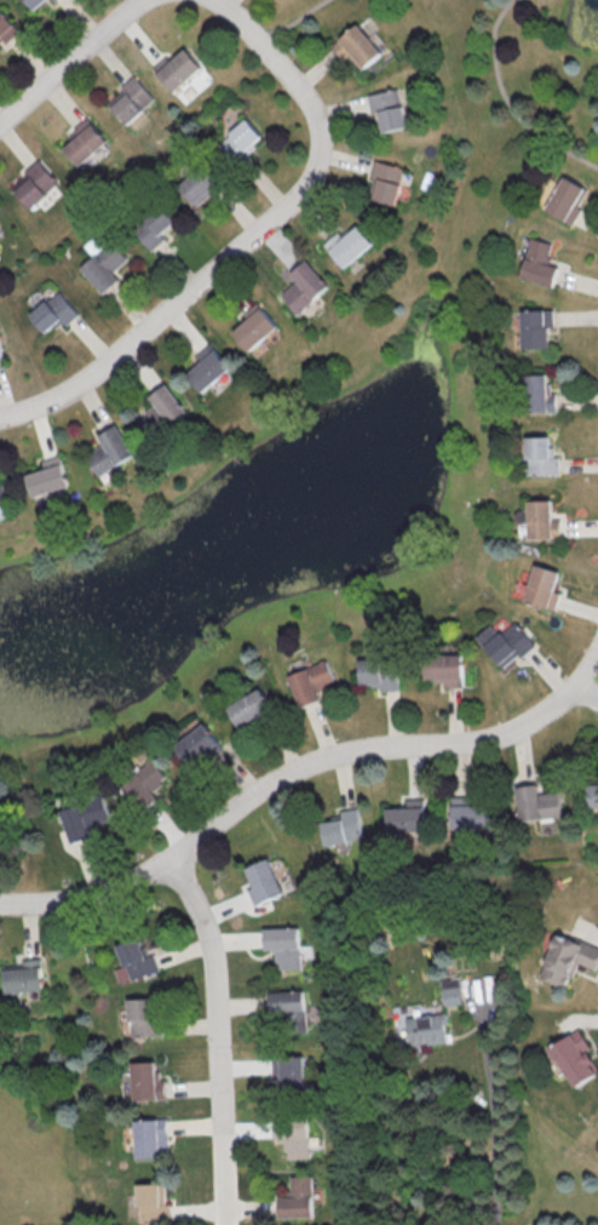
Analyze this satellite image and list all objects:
building: (53, 0)
building: (35, 2)
road: (293, 22)
building: (5, 25)
building: (357, 46)
road: (71, 61)
building: (179, 69)
building: (200, 79)
building: (132, 99)
road: (507, 105)
building: (389, 109)
building: (84, 141)
building: (241, 141)
building: (387, 181)
building: (36, 183)
building: (200, 184)
building: (567, 199)
building: (154, 227)
building: (0, 234)
road: (249, 240)
building: (349, 245)
building: (104, 262)
building: (539, 263)
building: (304, 286)
building: (53, 313)
building: (254, 326)
building: (535, 327)
building: (0, 354)
building: (207, 367)
building: (539, 394)
building: (162, 411)
building: (109, 450)
building: (539, 456)
building: (47, 476)
building: (1, 492)
building: (541, 520)
building: (542, 586)
building: (505, 643)
building: (444, 669)
building: (380, 671)
building: (311, 682)
road: (587, 689)
building: (248, 706)
building: (197, 745)
road: (299, 771)
building: (145, 783)
building: (593, 794)
building: (536, 802)
building: (471, 813)
building: (407, 815)
building: (85, 817)
building: (343, 828)
building: (264, 880)
building: (284, 945)
building: (567, 958)
building: (134, 961)
building: (24, 975)
building: (452, 990)
building: (287, 1004)
building: (144, 1017)
building: (427, 1029)
road: (218, 1037)
building: (574, 1058)
building: (298, 1071)
building: (146, 1080)
road: (491, 1120)
building: (294, 1137)
building: (150, 1138)
building: (297, 1197)
building: (151, 1203)

